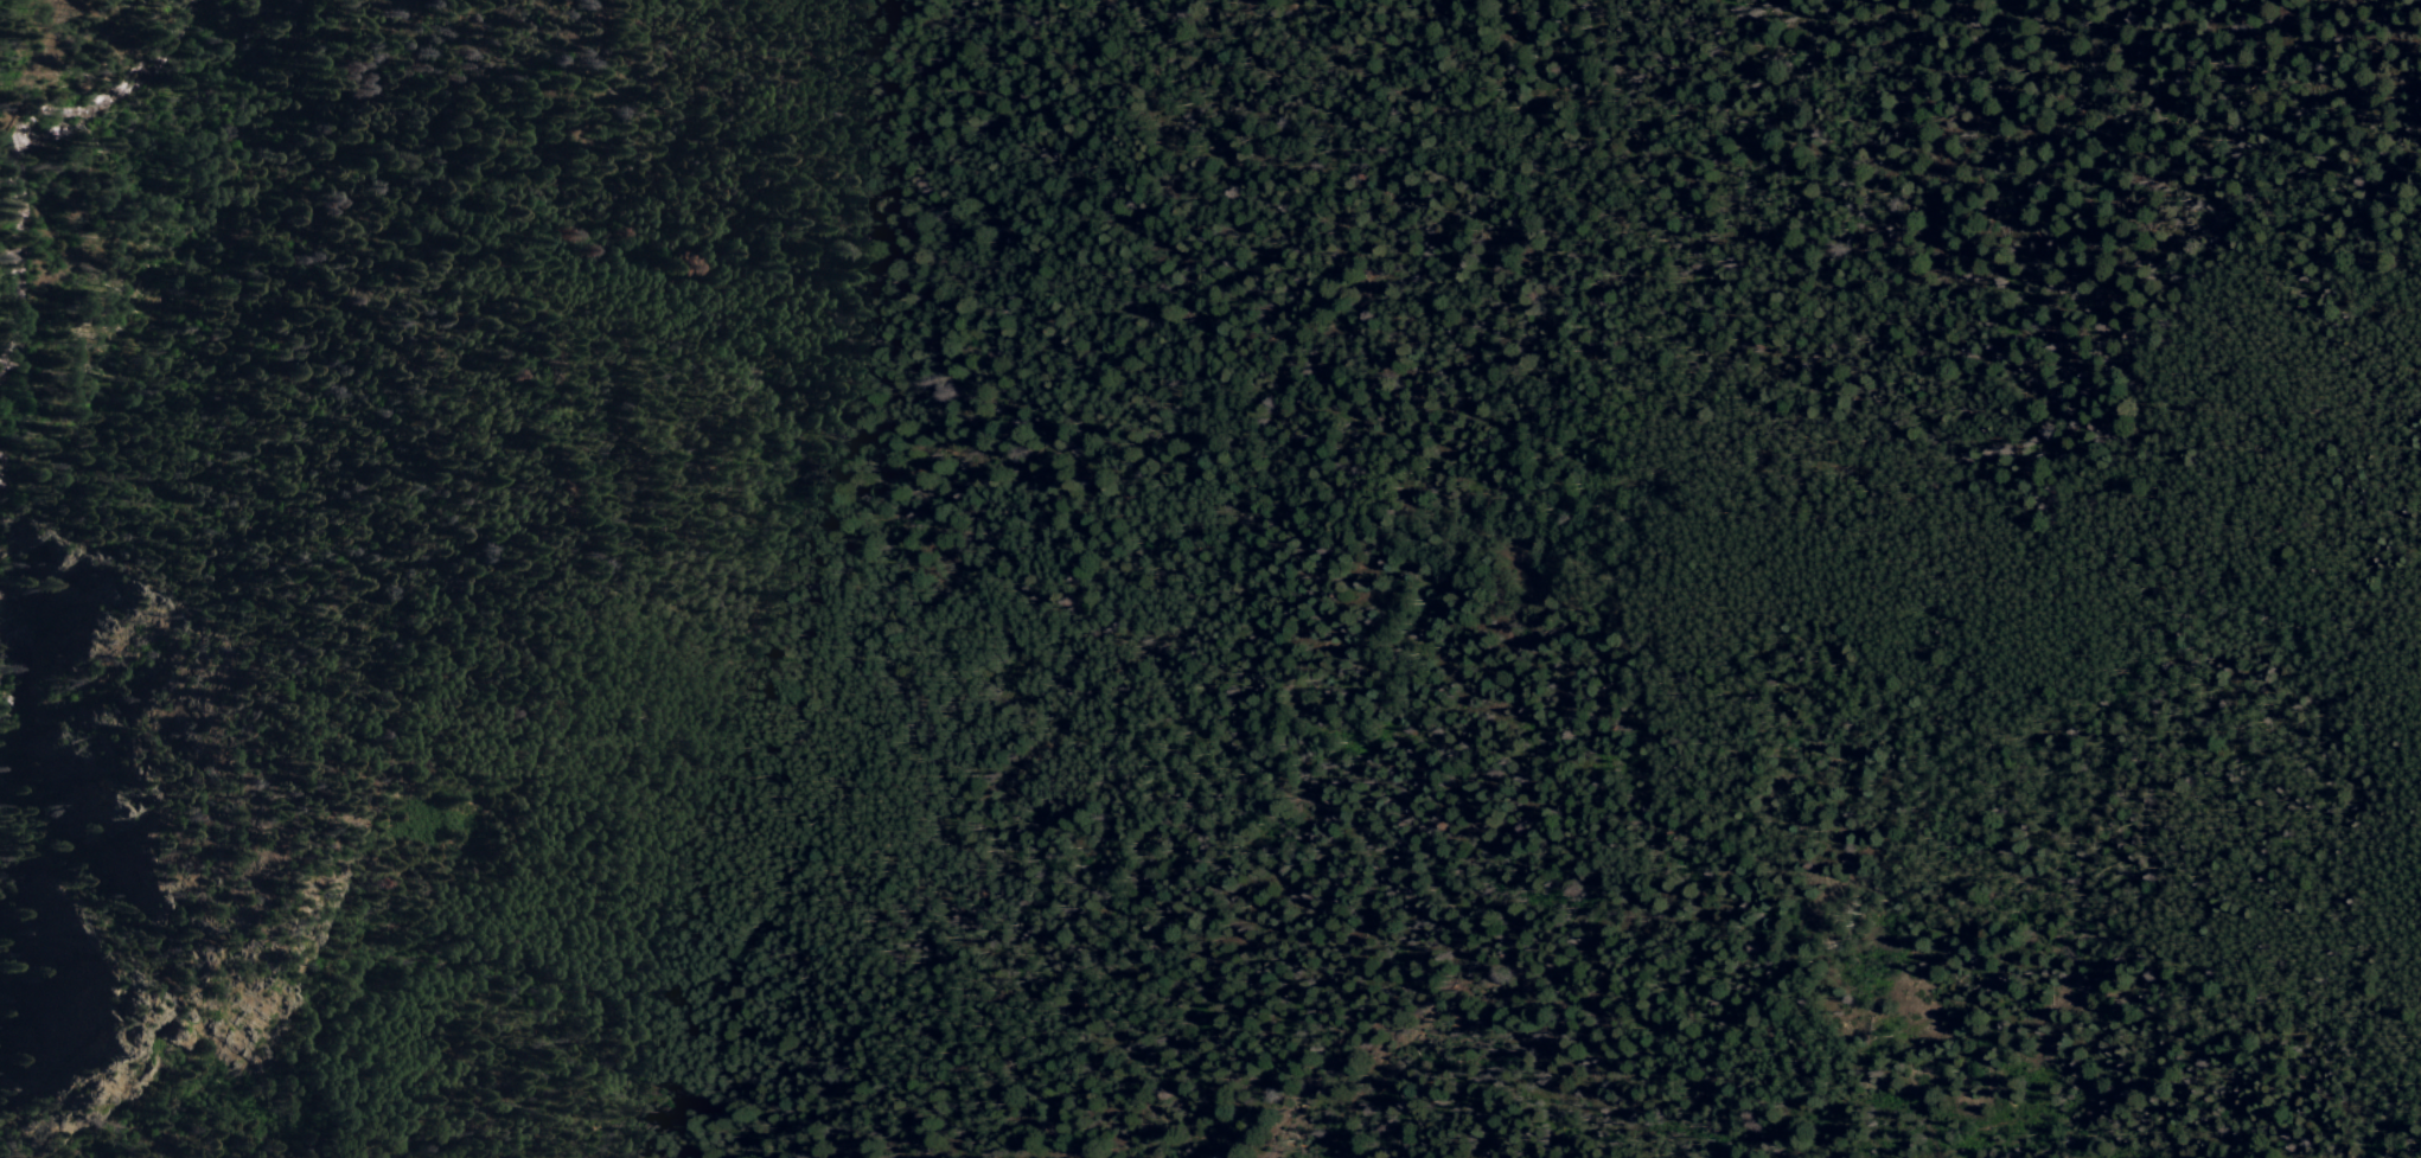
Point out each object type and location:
road: (39, 79)
river: (65, 543)
road: (27, 680)

